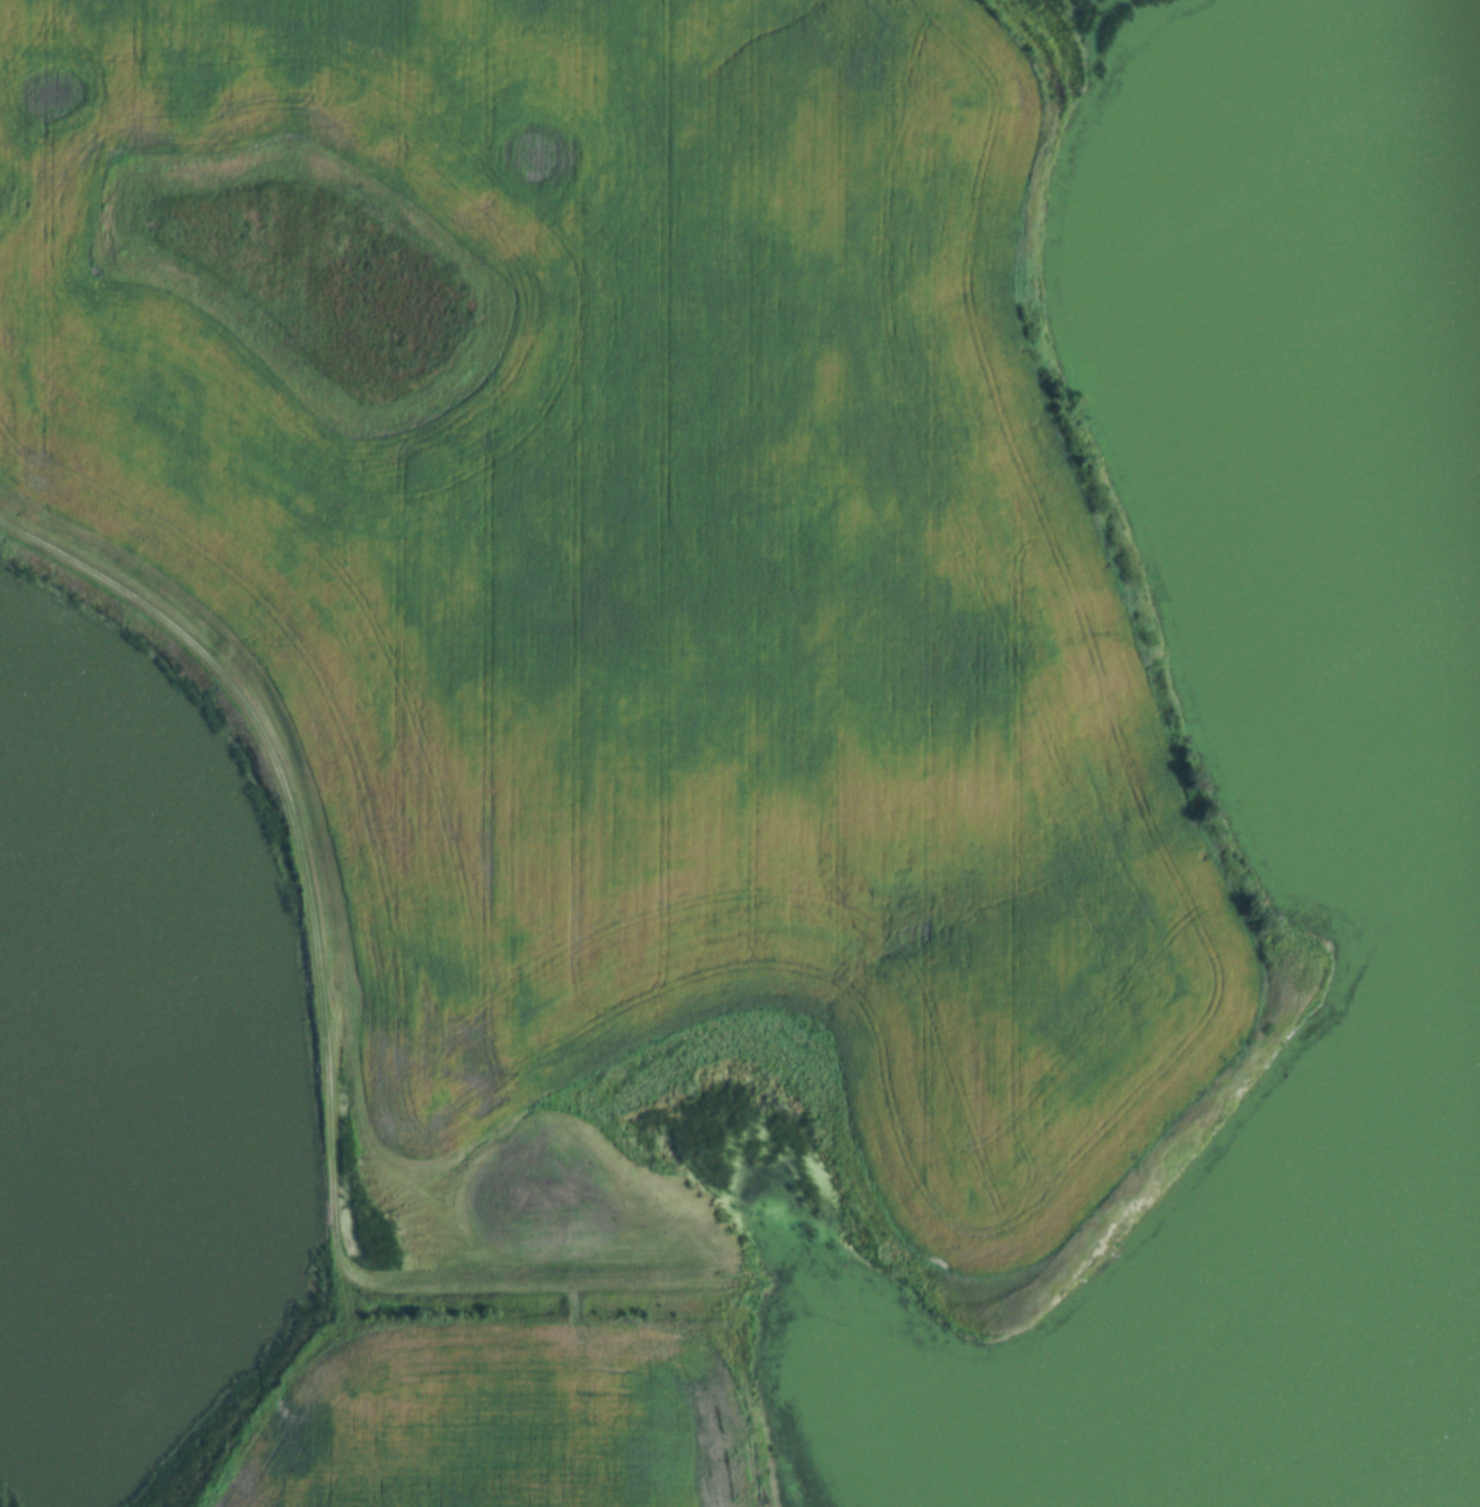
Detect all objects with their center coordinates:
road: (299, 832)
road: (477, 1292)

